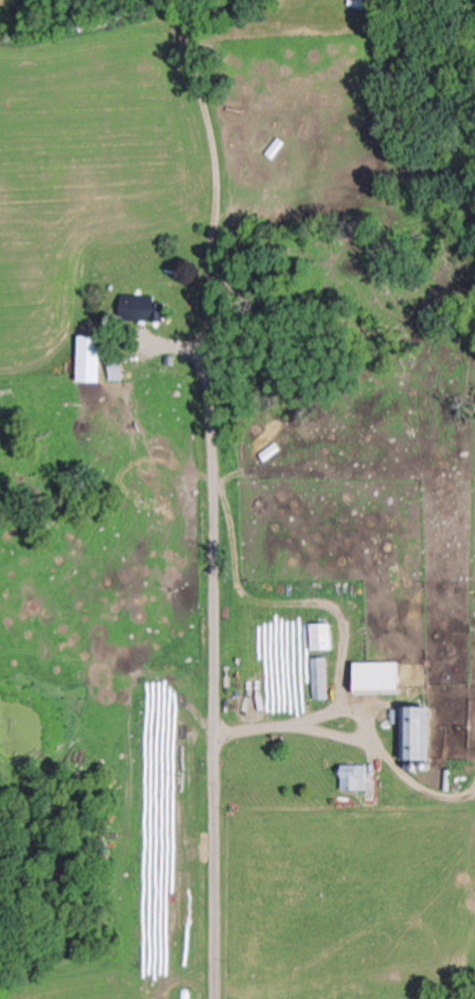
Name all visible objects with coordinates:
building: (358, 4)
building: (142, 308)
building: (92, 358)
building: (117, 368)
road: (207, 517)
building: (322, 637)
building: (321, 679)
building: (381, 679)
road: (274, 725)
building: (420, 734)
building: (356, 779)

